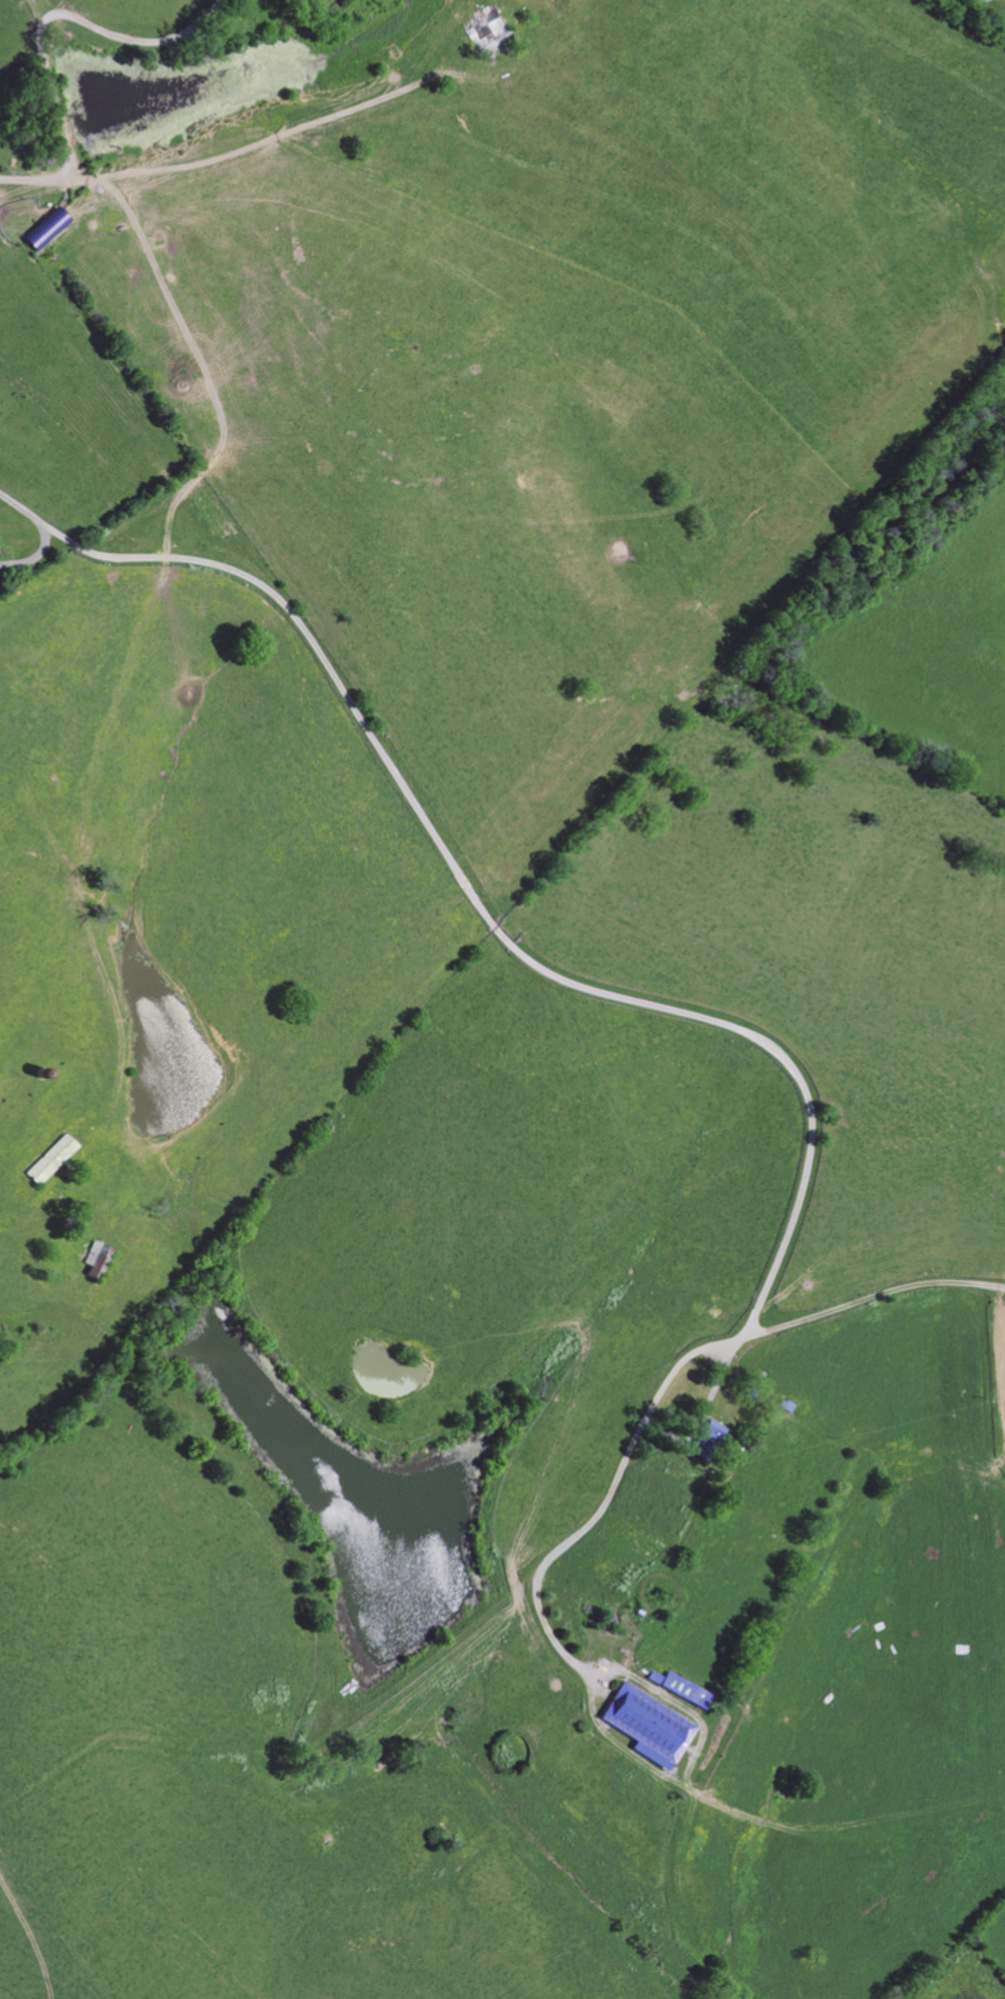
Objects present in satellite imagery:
road: (54, 14)
road: (261, 142)
road: (43, 536)
road: (678, 1012)
building: (52, 1160)
building: (96, 1260)
building: (708, 1440)
building: (681, 1688)
building: (649, 1725)

